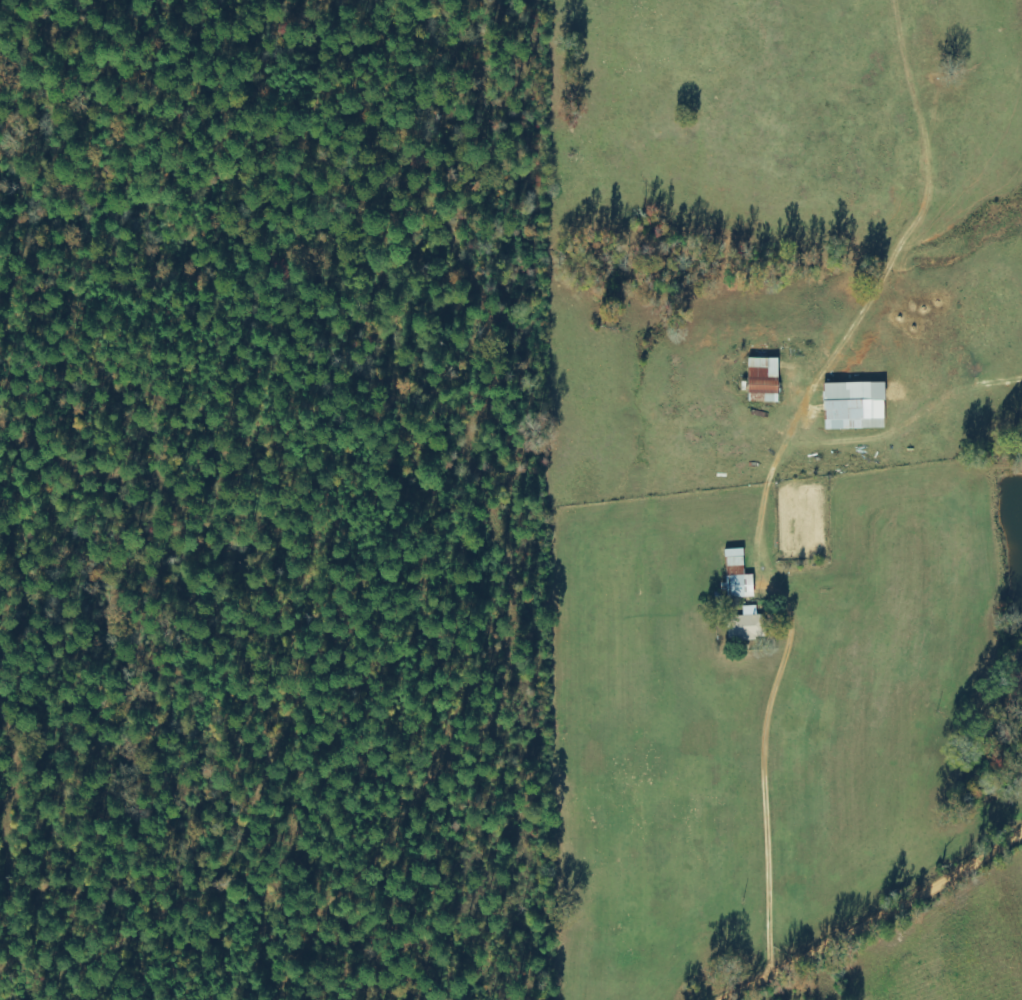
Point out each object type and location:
building: (768, 378)
building: (859, 406)
building: (739, 557)
building: (744, 583)
building: (751, 626)
road: (892, 922)

